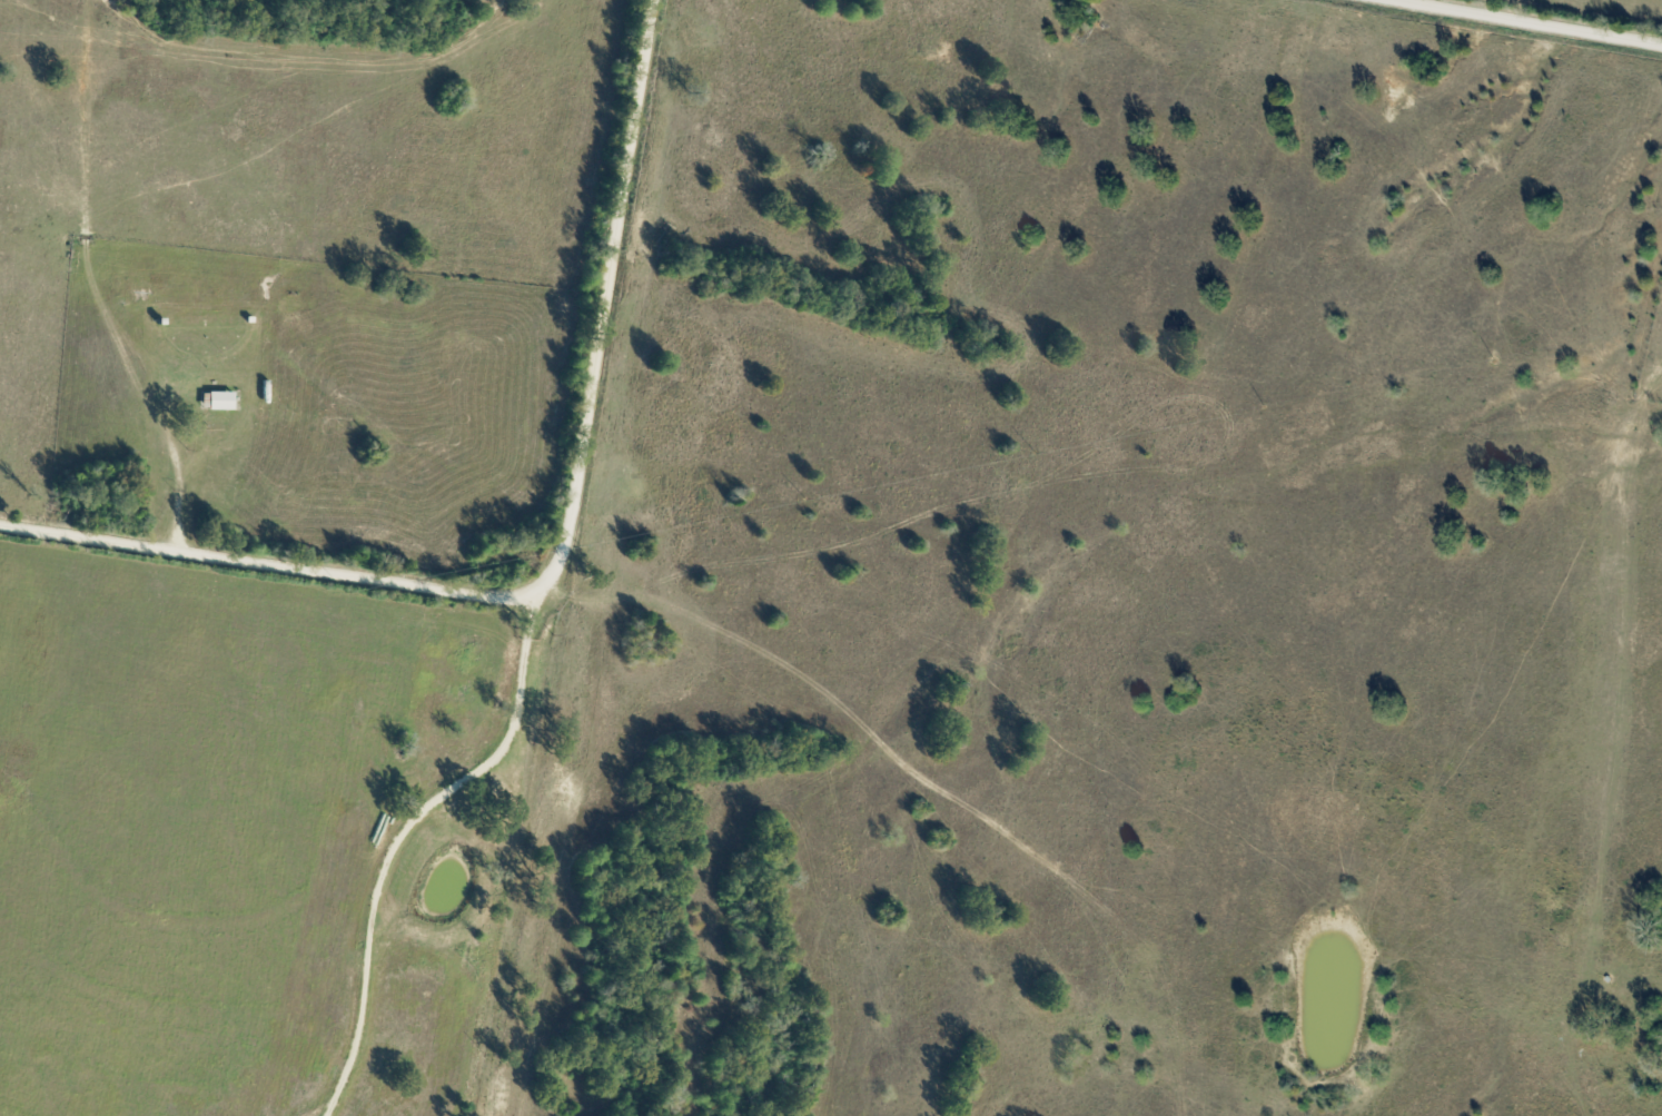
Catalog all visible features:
road: (1522, 22)
road: (551, 563)

